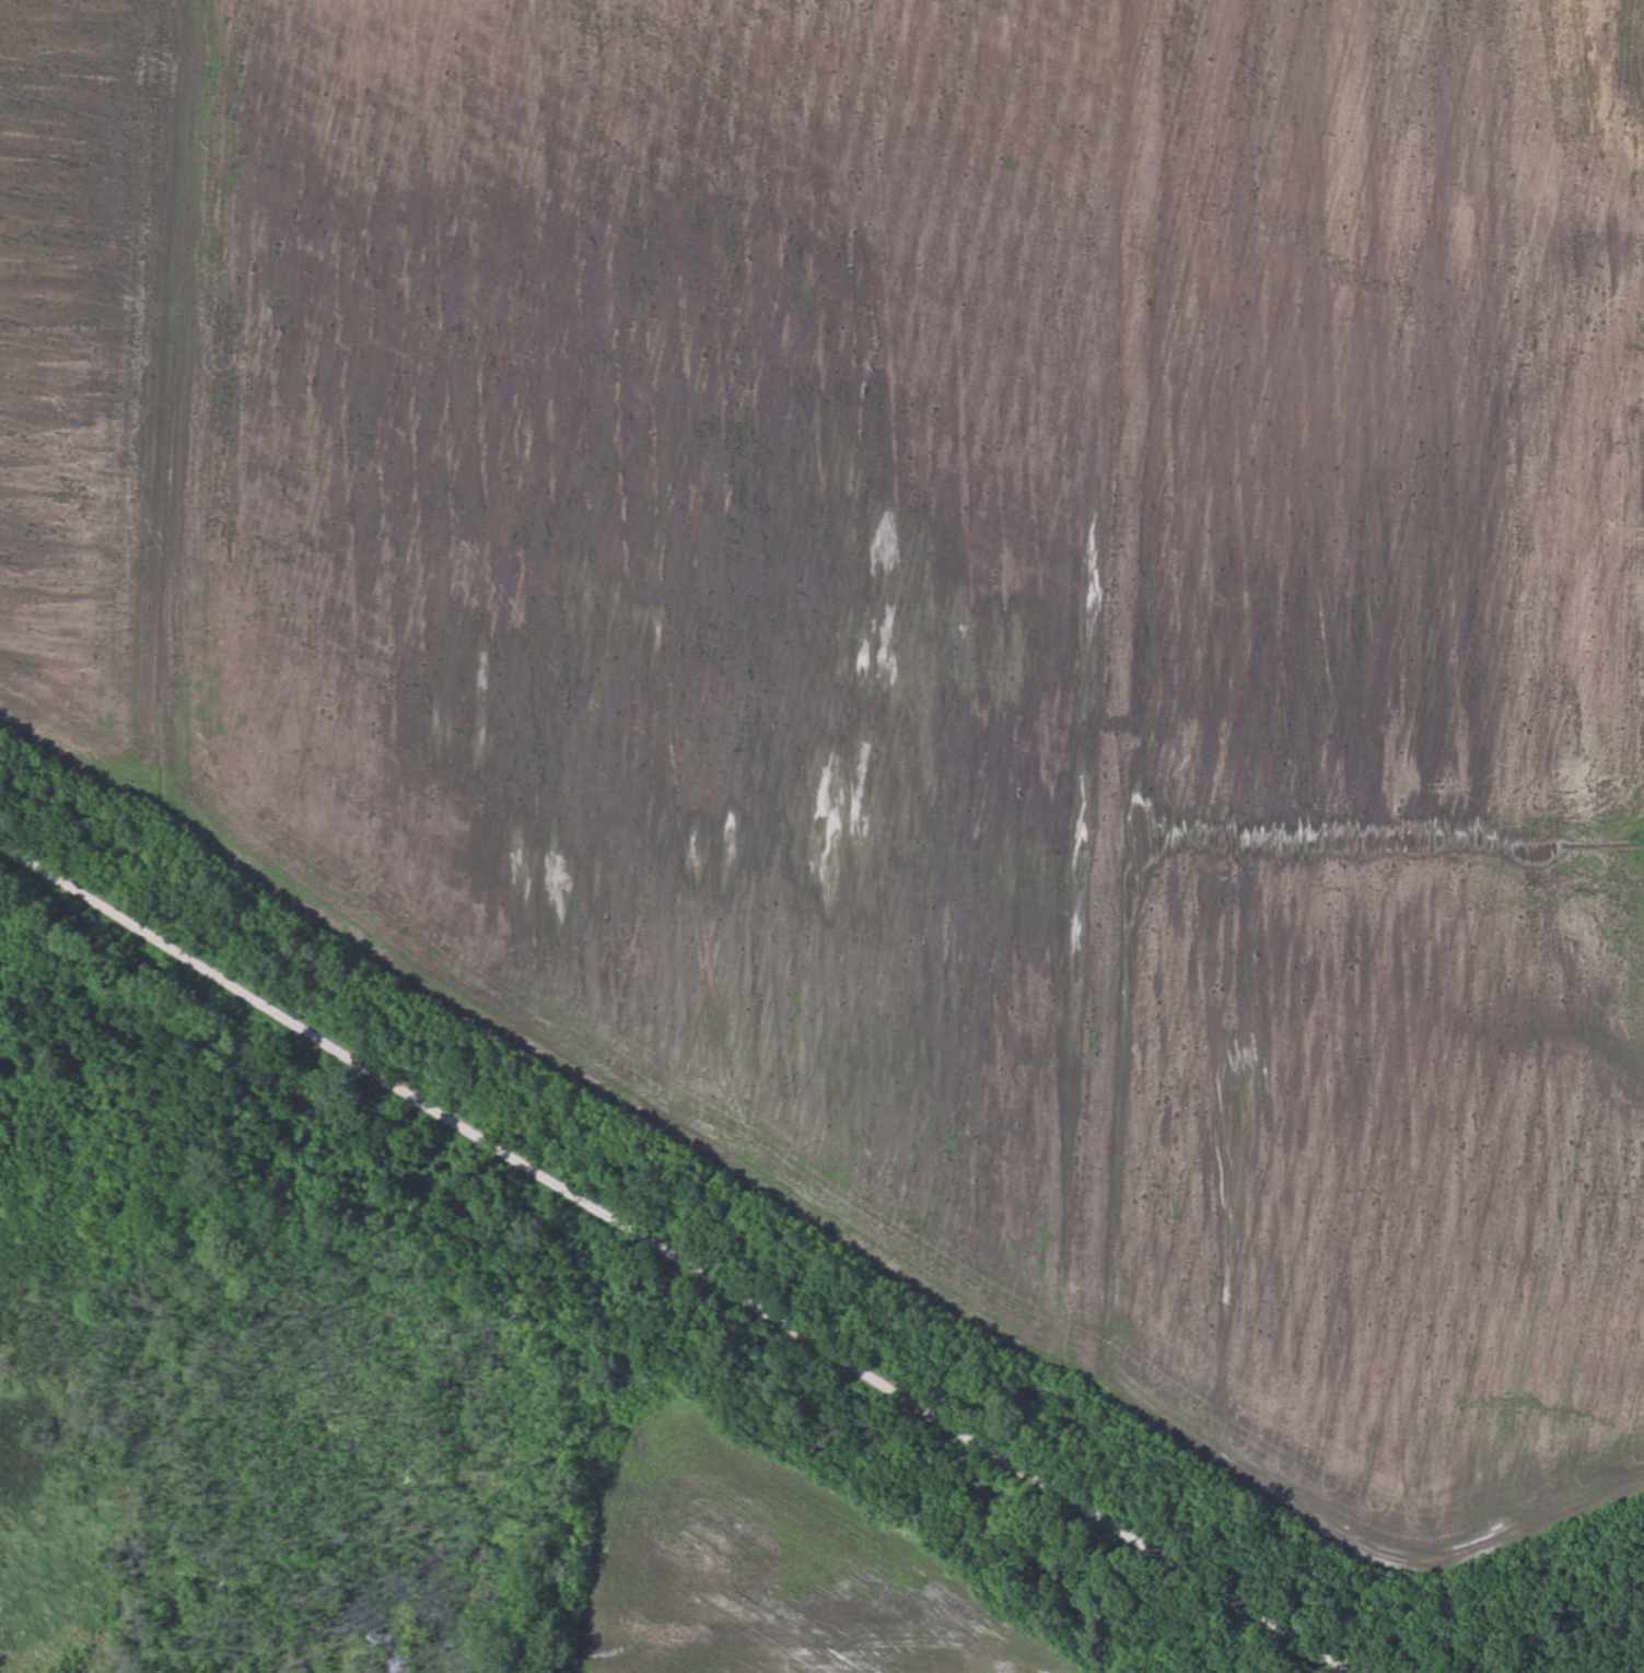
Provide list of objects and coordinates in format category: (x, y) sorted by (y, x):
crop: (925, 633)
road: (674, 1257)
crop: (774, 1569)

